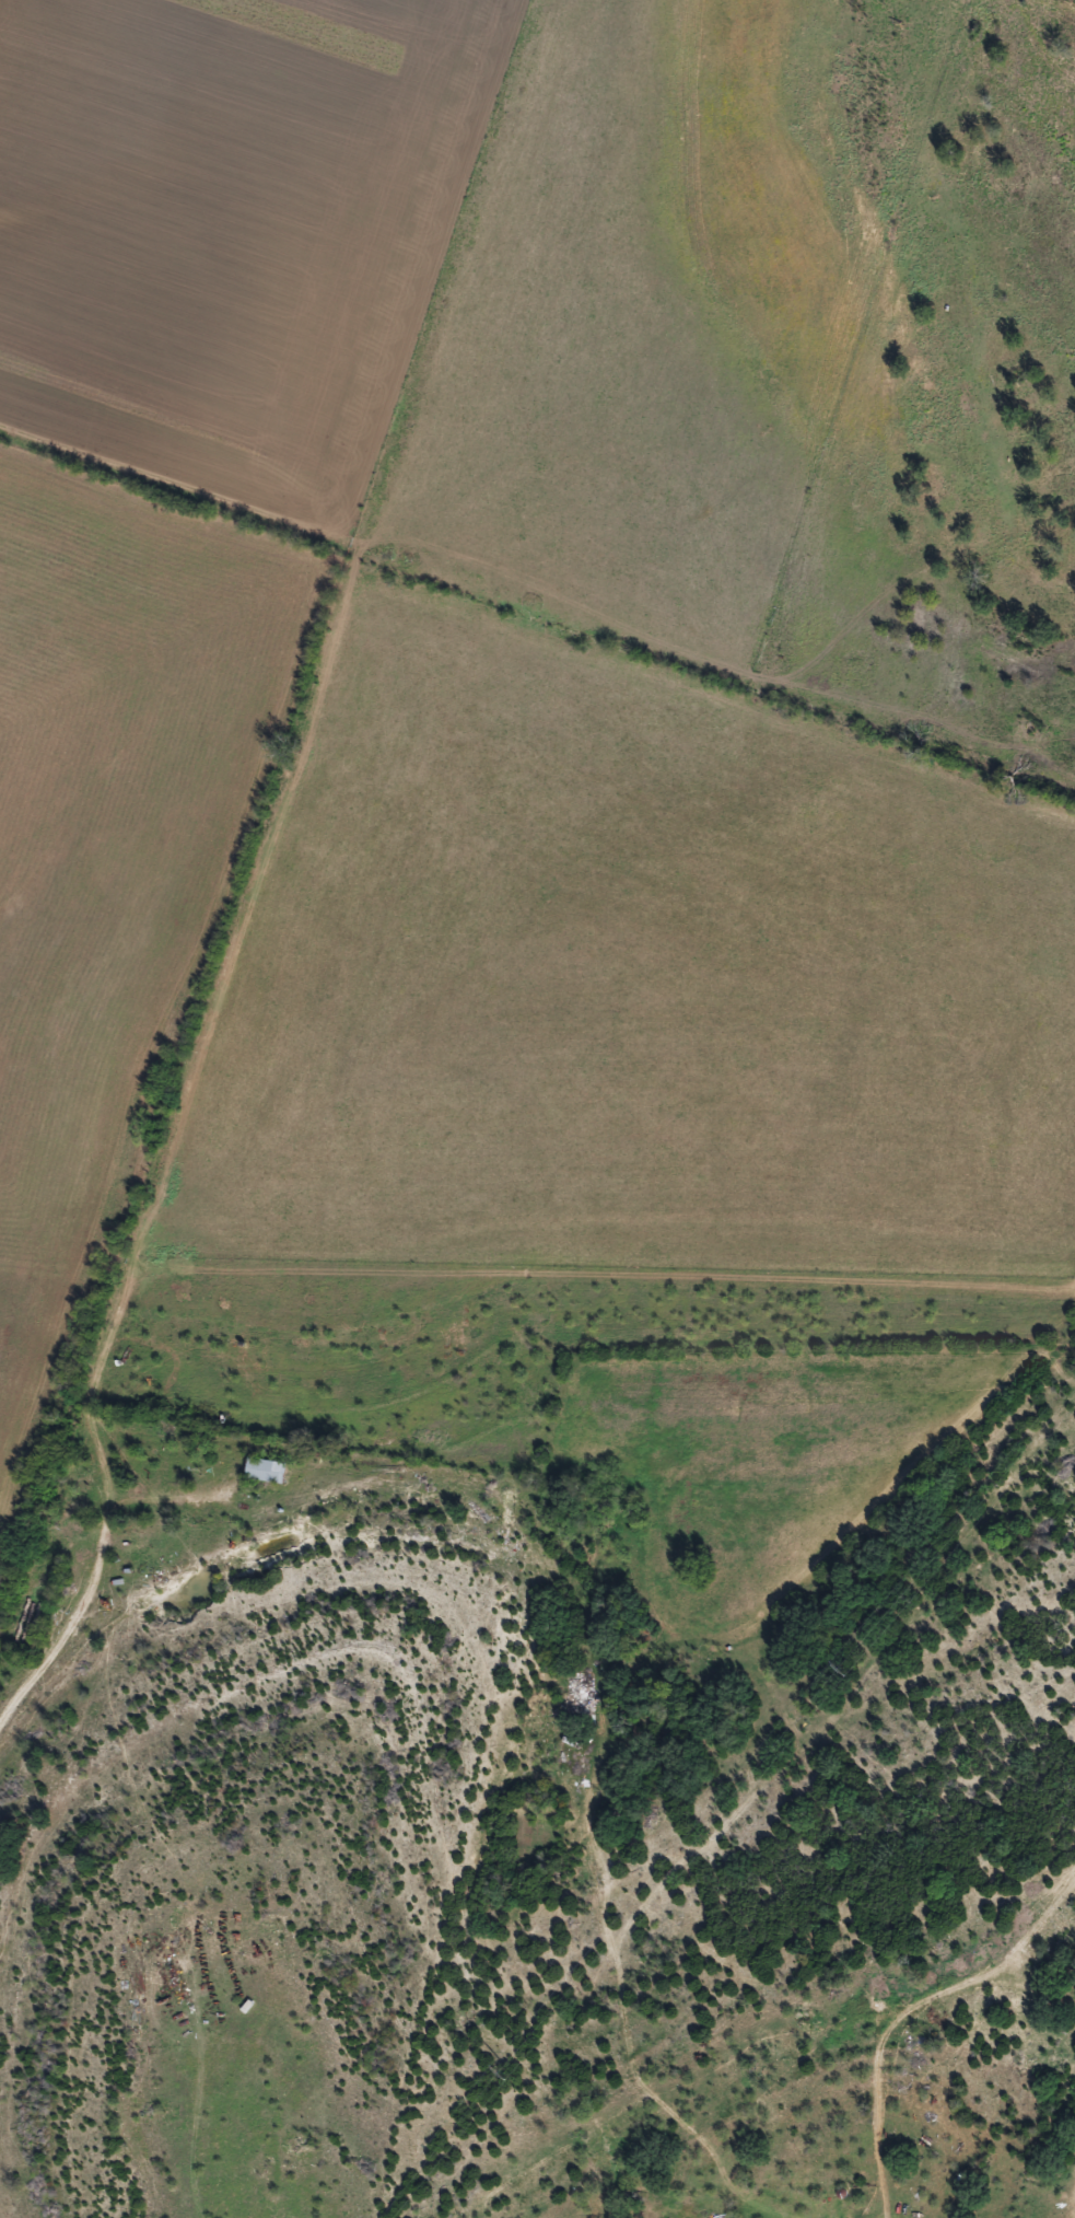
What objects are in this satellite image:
building: (270, 1470)
power tower: (852, 1672)
power tower: (509, 2074)

